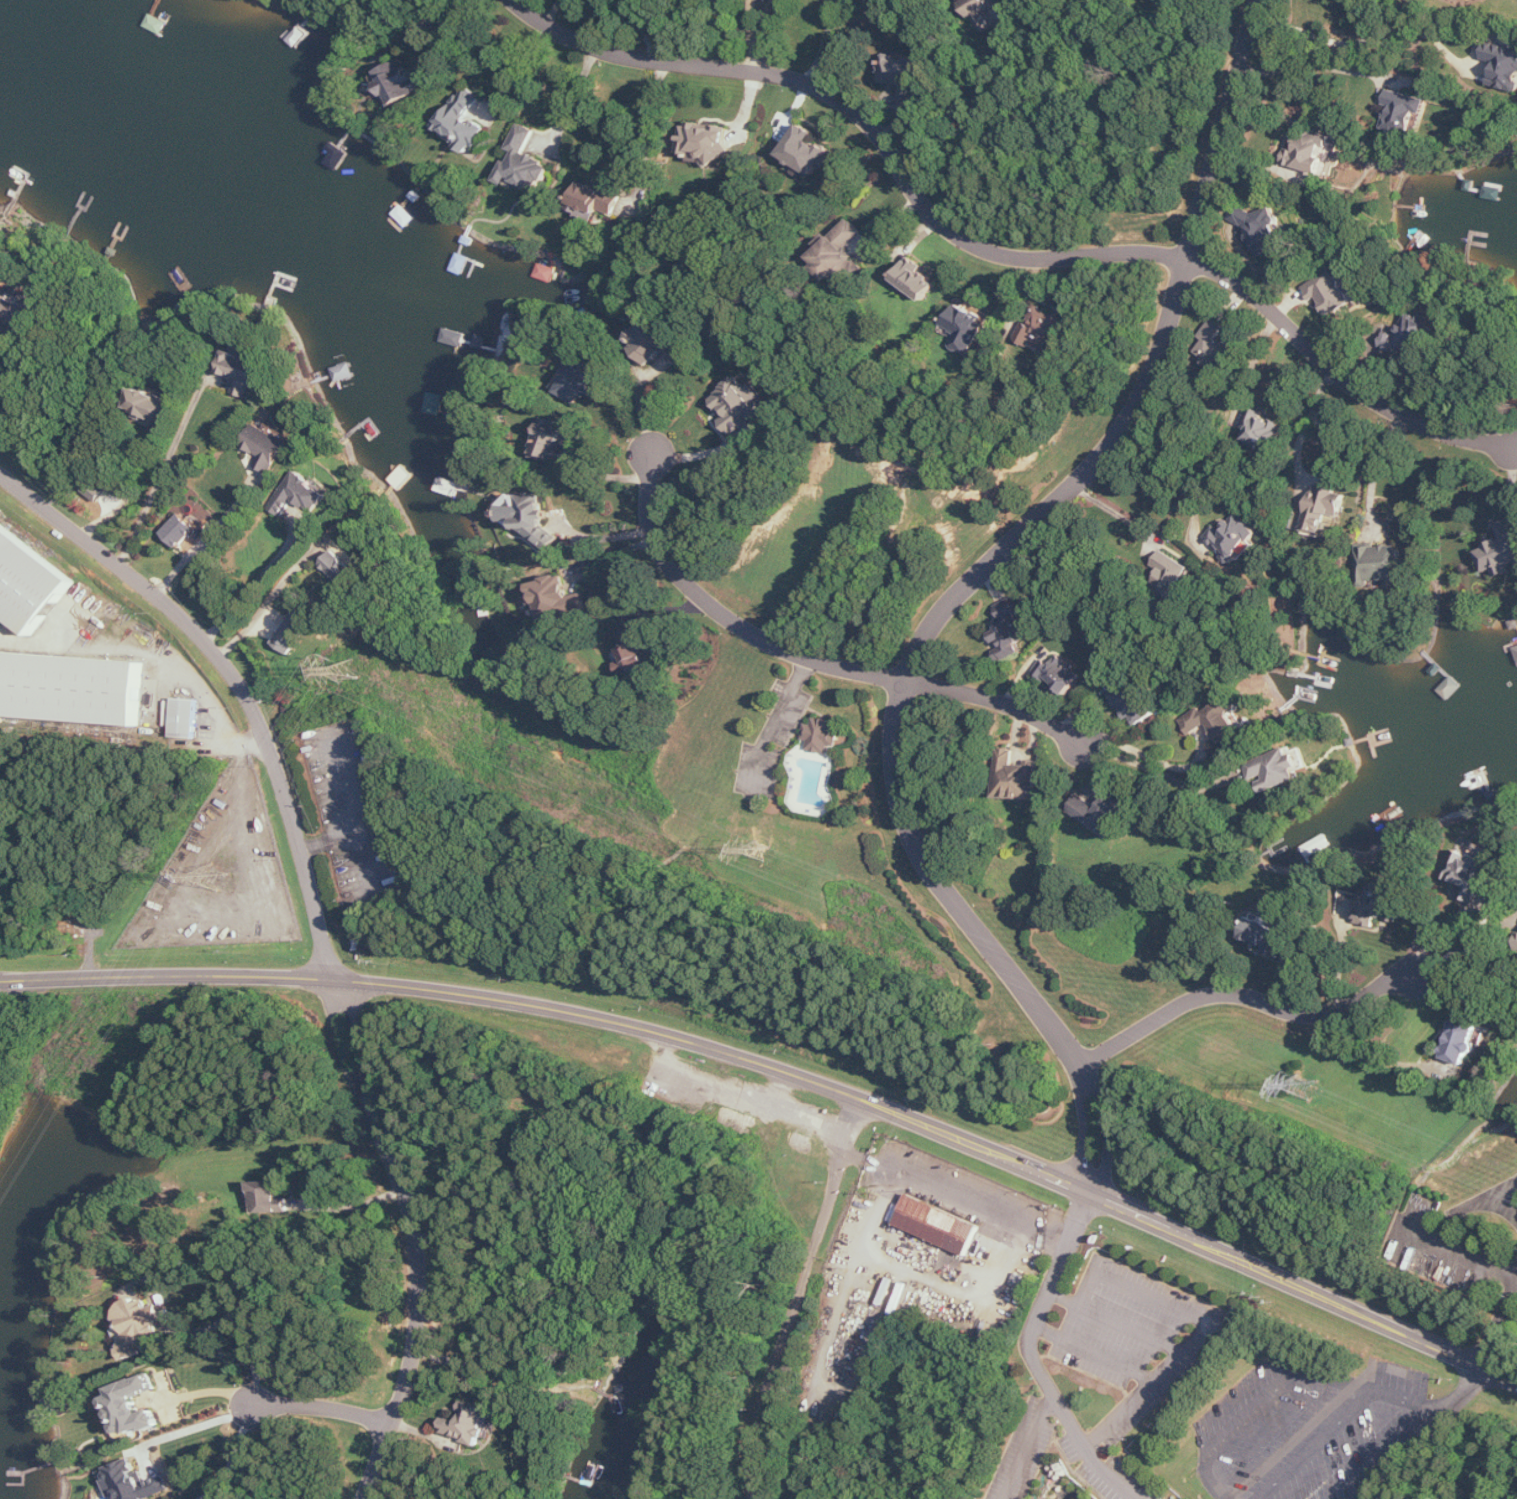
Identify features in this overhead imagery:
building: (983, 12)
road: (648, 30)
road: (733, 34)
road: (460, 37)
road: (1371, 39)
road: (826, 43)
road: (1313, 63)
building: (1503, 64)
road: (522, 67)
building: (904, 75)
building: (400, 83)
building: (1404, 111)
building: (464, 121)
road: (867, 122)
road: (655, 124)
road: (981, 127)
building: (707, 140)
building: (808, 150)
building: (1309, 157)
building: (525, 162)
building: (597, 201)
building: (1263, 229)
building: (841, 254)
building: (545, 272)
building: (917, 279)
building: (1331, 292)
building: (21, 311)
building: (965, 327)
building: (1041, 329)
building: (1412, 337)
building: (657, 342)
road: (5, 343)
building: (1215, 346)
road: (1259, 360)
building: (241, 372)
road: (1341, 373)
building: (584, 377)
building: (153, 405)
building: (737, 405)
road: (642, 409)
road: (1308, 419)
building: (1263, 430)
building: (554, 441)
building: (267, 448)
road: (698, 452)
road: (1377, 468)
road: (1179, 479)
road: (162, 481)
building: (299, 495)
road: (127, 500)
road: (1120, 511)
building: (1323, 512)
building: (535, 518)
building: (181, 530)
road: (603, 535)
building: (1234, 538)
road: (200, 546)
building: (1502, 550)
road: (1002, 552)
building: (1382, 566)
building: (341, 569)
building: (1171, 571)
building: (29, 581)
road: (251, 592)
building: (560, 598)
road: (262, 610)
road: (727, 616)
building: (1010, 631)
building: (294, 632)
building: (635, 647)
building: (1516, 649)
road: (155, 651)
power tower: (350, 669)
building: (1061, 674)
road: (237, 680)
building: (71, 688)
road: (998, 701)
building: (1135, 704)
building: (186, 718)
building: (1219, 718)
road: (773, 719)
building: (822, 735)
building: (1279, 768)
road: (1163, 773)
building: (1020, 781)
building: (1103, 812)
park: (89, 822)
power tower: (762, 847)
building: (1469, 870)
power tower: (217, 877)
building: (1371, 905)
road: (1442, 925)
road: (1470, 935)
building: (1266, 937)
road: (1469, 953)
road: (1340, 957)
road: (337, 988)
road: (1247, 995)
road: (361, 1040)
road: (345, 1046)
road: (1378, 1055)
road: (784, 1072)
power tower: (1311, 1087)
road: (1096, 1088)
road: (1505, 1190)
road: (959, 1195)
building: (270, 1199)
road: (351, 1204)
road: (1079, 1218)
building: (938, 1224)
road: (1457, 1250)
road: (921, 1273)
road: (419, 1294)
road: (799, 1299)
road: (1208, 1317)
road: (246, 1323)
road: (1498, 1323)
building: (139, 1325)
road: (1132, 1328)
road: (1097, 1353)
road: (1338, 1375)
road: (1047, 1381)
road: (212, 1392)
road: (1409, 1399)
building: (135, 1406)
road: (326, 1408)
road: (1253, 1413)
park: (1333, 1421)
building: (469, 1423)
road: (198, 1426)
road: (1419, 1435)
road: (1317, 1442)
road: (1030, 1446)
road: (235, 1458)
road: (1213, 1480)
building: (132, 1482)

